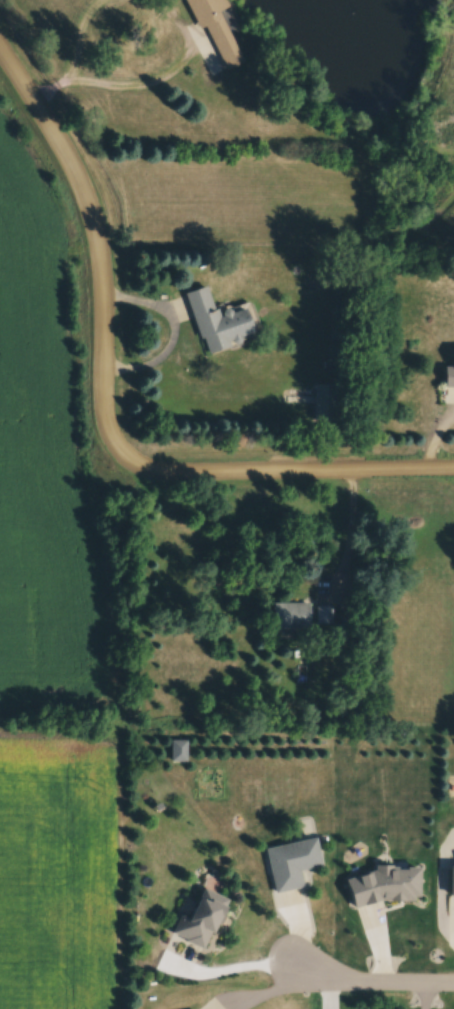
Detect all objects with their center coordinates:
building: (215, 28)
road: (123, 87)
road: (49, 90)
park: (259, 116)
building: (400, 152)
building: (219, 325)
building: (449, 380)
building: (326, 404)
road: (106, 408)
road: (351, 533)
building: (291, 617)
building: (324, 617)
building: (292, 866)
building: (451, 875)
building: (202, 921)
road: (371, 983)
road: (424, 997)

